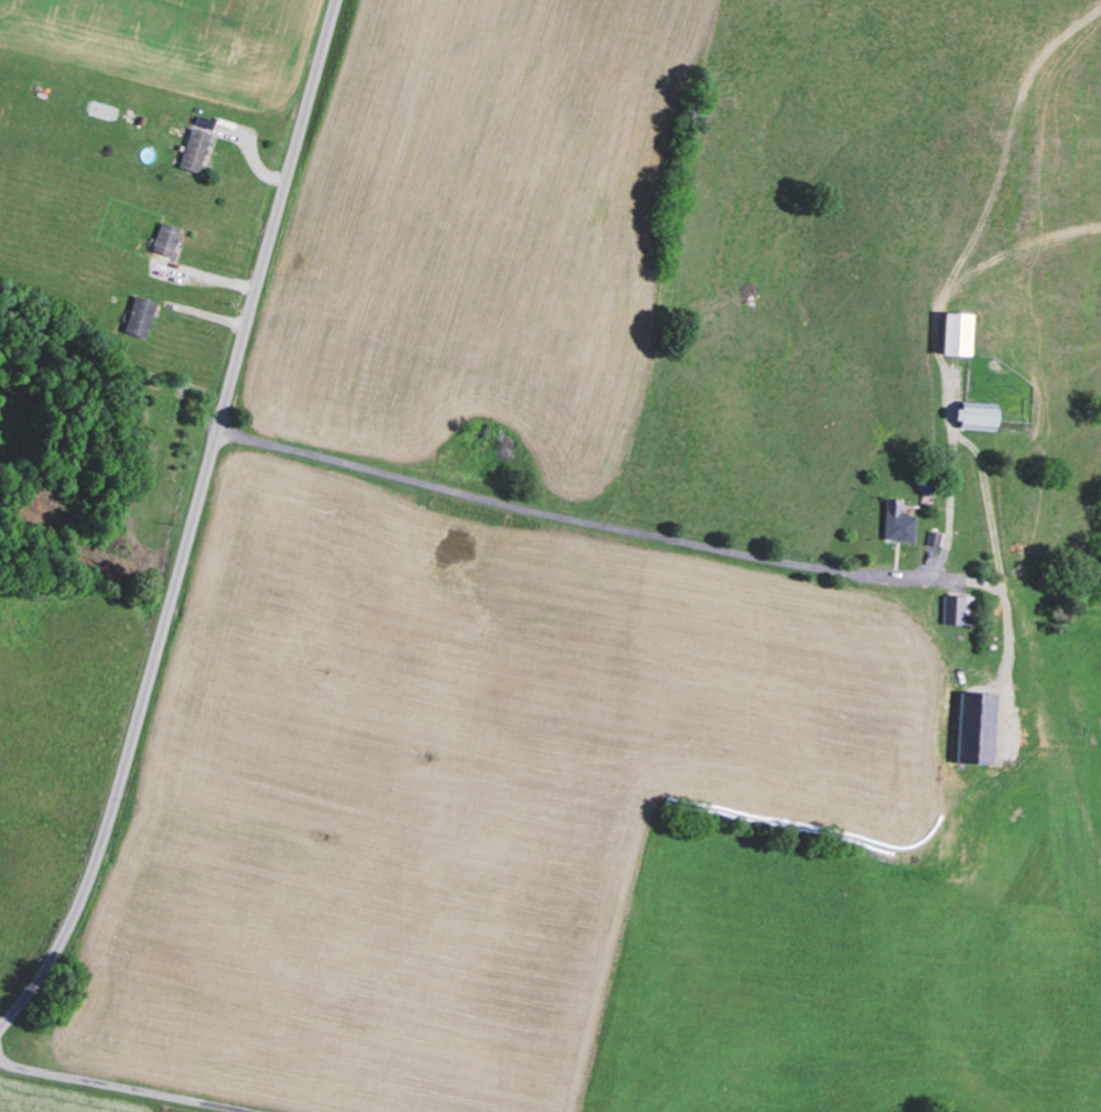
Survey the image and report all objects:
building: (193, 149)
building: (165, 238)
building: (139, 315)
building: (957, 332)
building: (976, 414)
building: (896, 521)
road: (191, 522)
building: (957, 608)
building: (975, 727)
road: (119, 1088)

